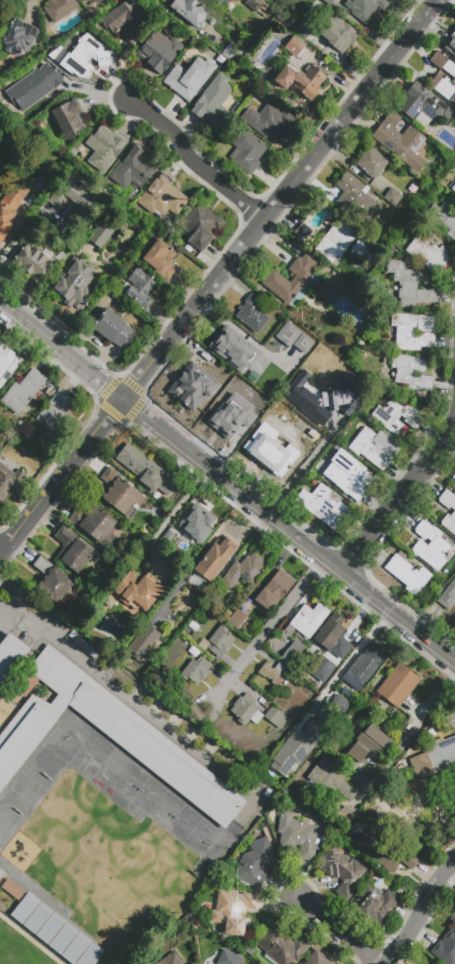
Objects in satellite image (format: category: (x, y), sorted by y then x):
building: (86, 0)
building: (394, 0)
building: (220, 2)
building: (328, 2)
building: (254, 5)
building: (364, 8)
building: (59, 9)
building: (190, 11)
building: (127, 20)
building: (303, 30)
building: (337, 33)
building: (18, 37)
building: (451, 45)
building: (294, 47)
building: (159, 52)
building: (86, 56)
building: (437, 77)
building: (190, 78)
building: (301, 80)
building: (0, 85)
building: (33, 87)
building: (213, 102)
building: (422, 104)
building: (238, 106)
building: (68, 120)
building: (269, 122)
building: (400, 141)
building: (105, 149)
building: (247, 151)
building: (371, 163)
road: (194, 164)
building: (134, 168)
building: (454, 188)
building: (162, 197)
building: (393, 197)
building: (356, 199)
building: (75, 200)
building: (10, 207)
building: (444, 216)
building: (200, 225)
building: (303, 232)
building: (99, 236)
road: (22, 239)
building: (341, 243)
building: (429, 252)
building: (161, 259)
building: (33, 263)
road: (218, 277)
building: (274, 278)
building: (74, 284)
building: (410, 286)
building: (140, 289)
building: (329, 292)
building: (348, 293)
building: (252, 314)
building: (112, 329)
building: (285, 333)
building: (412, 339)
building: (229, 346)
road: (60, 348)
building: (7, 363)
building: (411, 373)
building: (260, 375)
building: (203, 381)
building: (22, 391)
building: (323, 396)
building: (52, 414)
building: (230, 416)
building: (395, 416)
building: (374, 447)
building: (269, 453)
road: (306, 466)
building: (322, 467)
building: (147, 471)
building: (454, 477)
building: (349, 478)
building: (9, 481)
road: (232, 484)
building: (121, 494)
road: (399, 496)
building: (323, 507)
road: (175, 508)
building: (453, 512)
building: (95, 526)
building: (195, 527)
building: (430, 546)
building: (72, 550)
building: (216, 558)
building: (245, 570)
building: (407, 574)
street lamp: (12, 575)
building: (55, 581)
building: (197, 581)
building: (139, 590)
building: (274, 590)
building: (213, 592)
building: (447, 596)
building: (227, 615)
road: (398, 617)
building: (236, 619)
building: (308, 620)
building: (193, 626)
parking lot: (43, 627)
road: (263, 631)
building: (333, 637)
building: (143, 641)
building: (220, 642)
building: (204, 644)
building: (292, 652)
road: (349, 662)
building: (365, 665)
building: (196, 670)
building: (320, 670)
building: (273, 672)
building: (398, 685)
road: (108, 688)
building: (245, 710)
building: (275, 718)
road: (411, 728)
building: (102, 729)
building: (307, 737)
building: (368, 744)
building: (434, 759)
building: (272, 765)
building: (330, 780)
park: (165, 809)
building: (345, 816)
building: (298, 835)
building: (384, 851)
building: (256, 864)
building: (341, 871)
building: (1, 873)
building: (13, 889)
building: (374, 904)
road: (418, 907)
building: (25, 908)
building: (233, 911)
building: (38, 918)
building: (452, 918)
building: (51, 928)
road: (337, 928)
building: (200, 937)
building: (64, 939)
road: (27, 943)
building: (280, 947)
building: (76, 948)
building: (446, 948)
building: (90, 955)
building: (228, 958)
building: (171, 959)
building: (317, 959)
building: (434, 963)
building: (435, 963)

